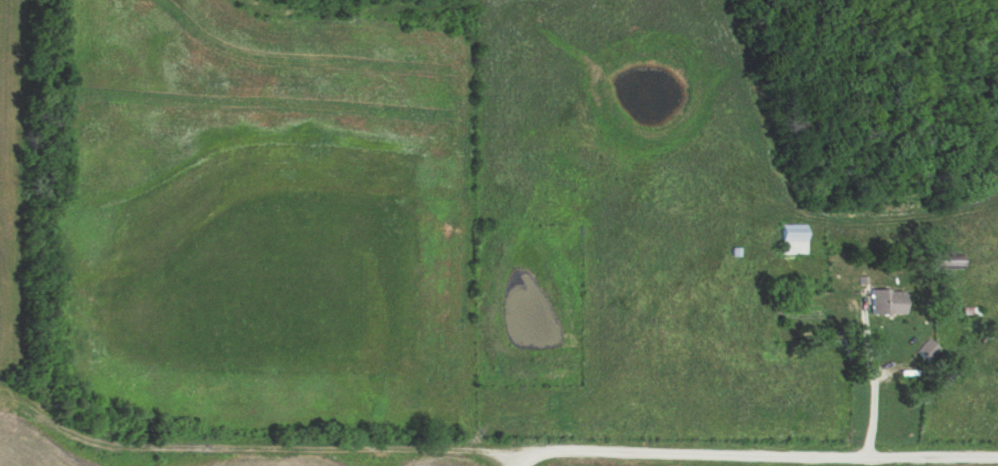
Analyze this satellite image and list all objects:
building: (793, 239)
building: (945, 264)
building: (887, 301)
road: (881, 386)
road: (490, 457)
road: (503, 462)

